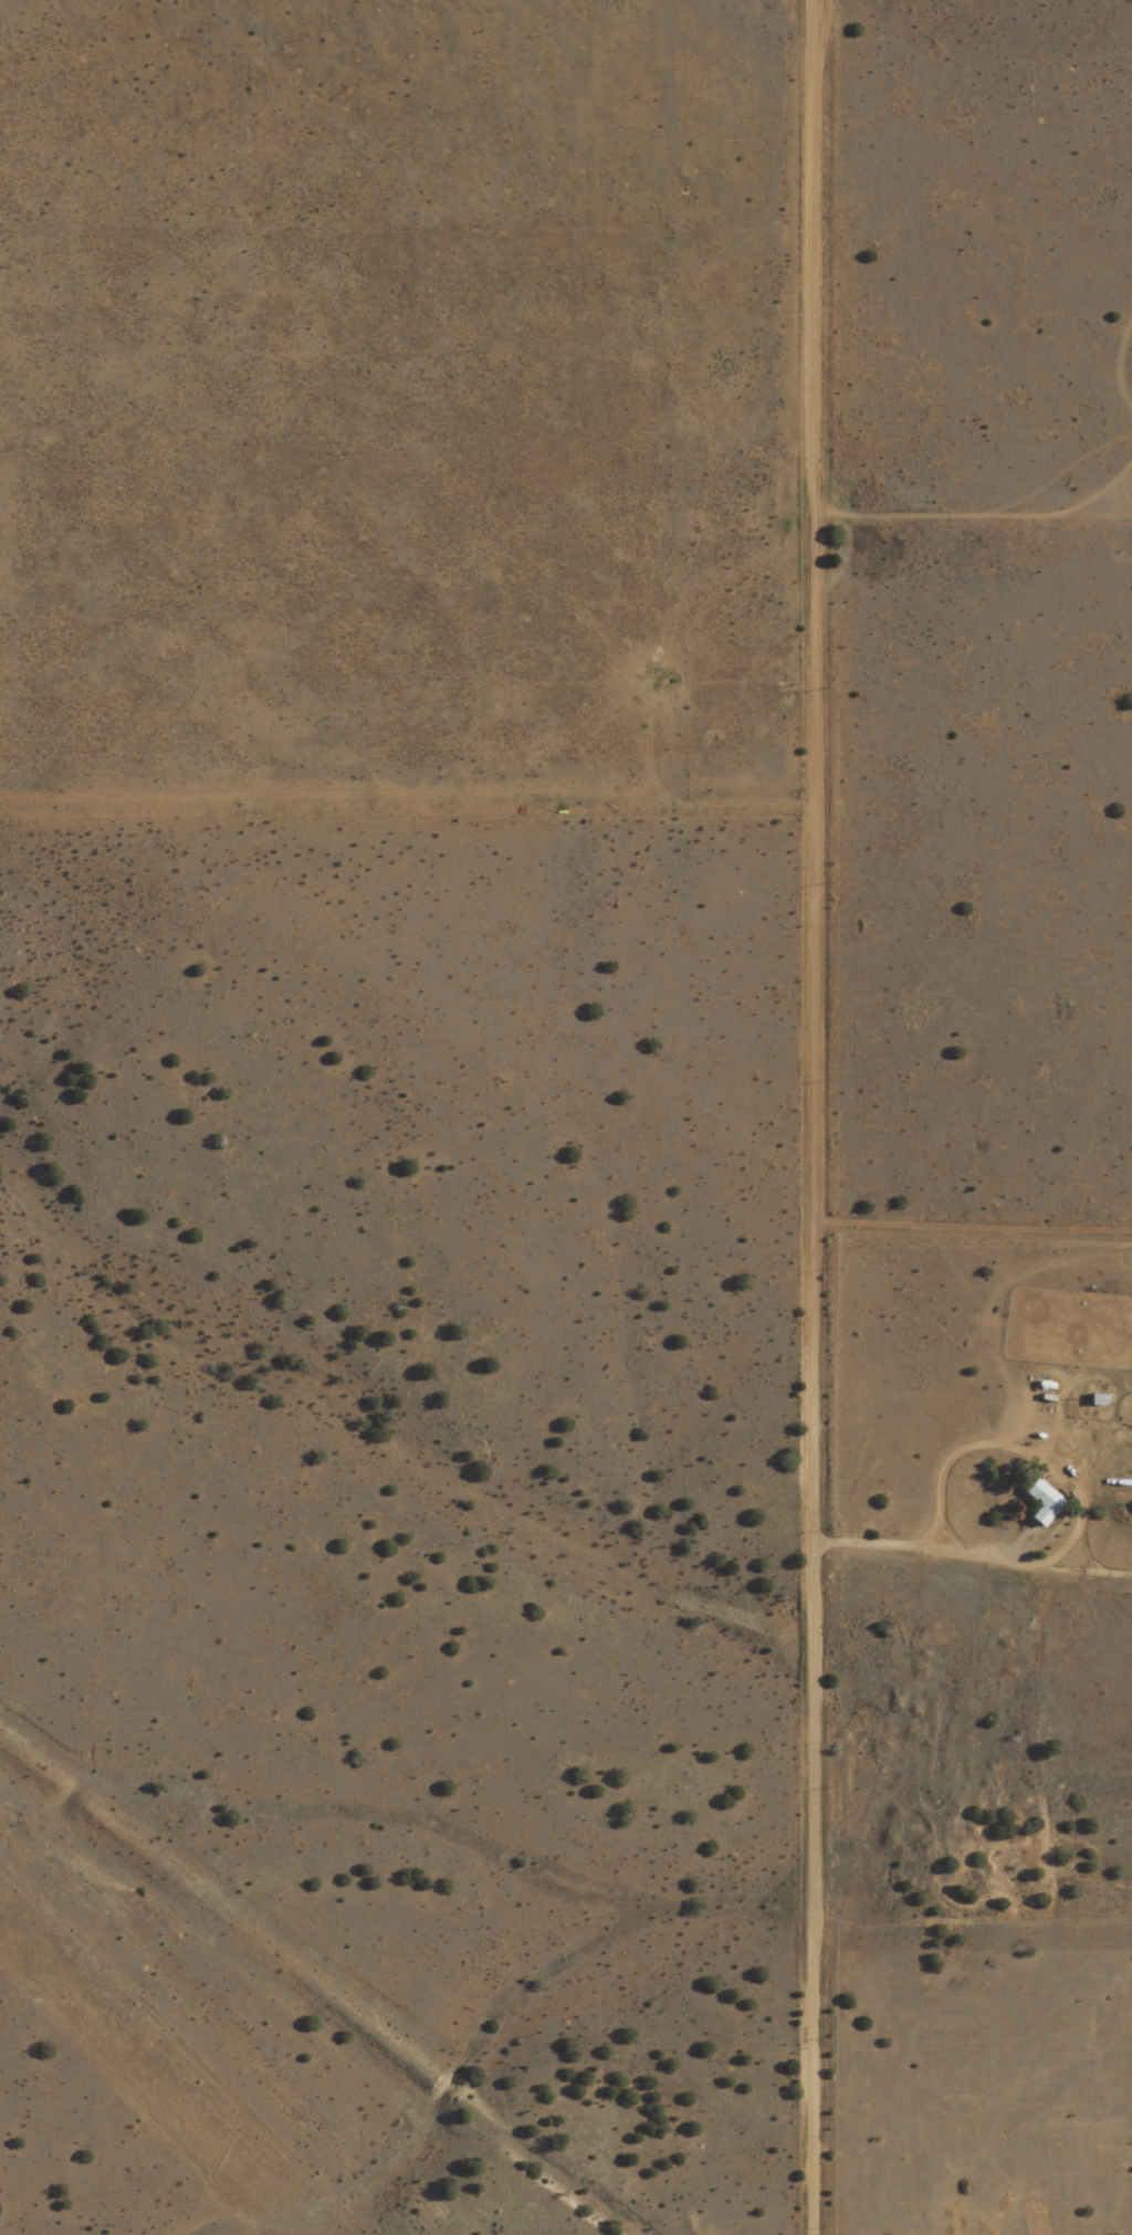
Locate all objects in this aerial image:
road: (816, 1117)
building: (1098, 1400)
building: (1041, 1503)

